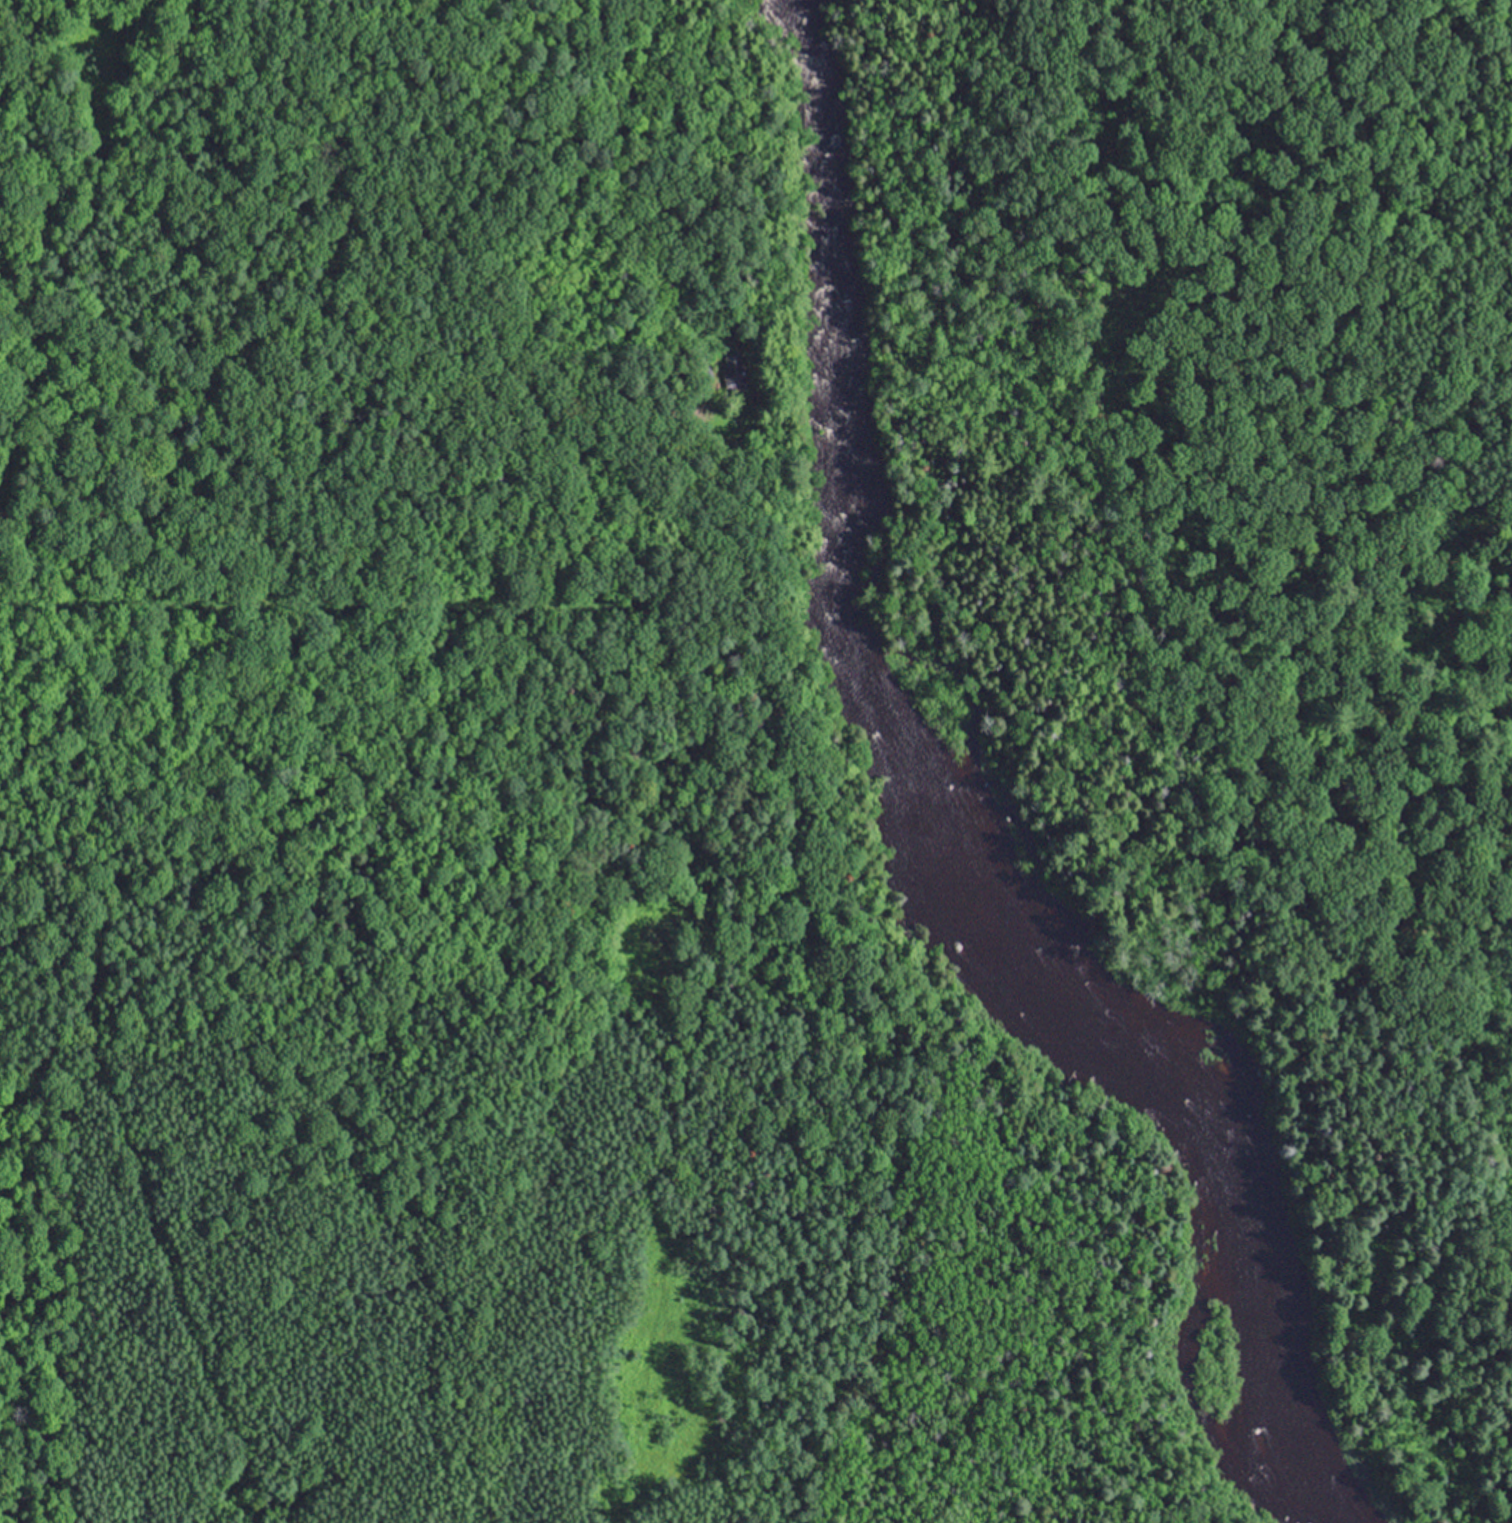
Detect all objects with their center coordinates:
road: (1439, 273)
river: (827, 305)
building: (730, 371)
road: (422, 605)
road: (1264, 915)
river: (1130, 1049)

